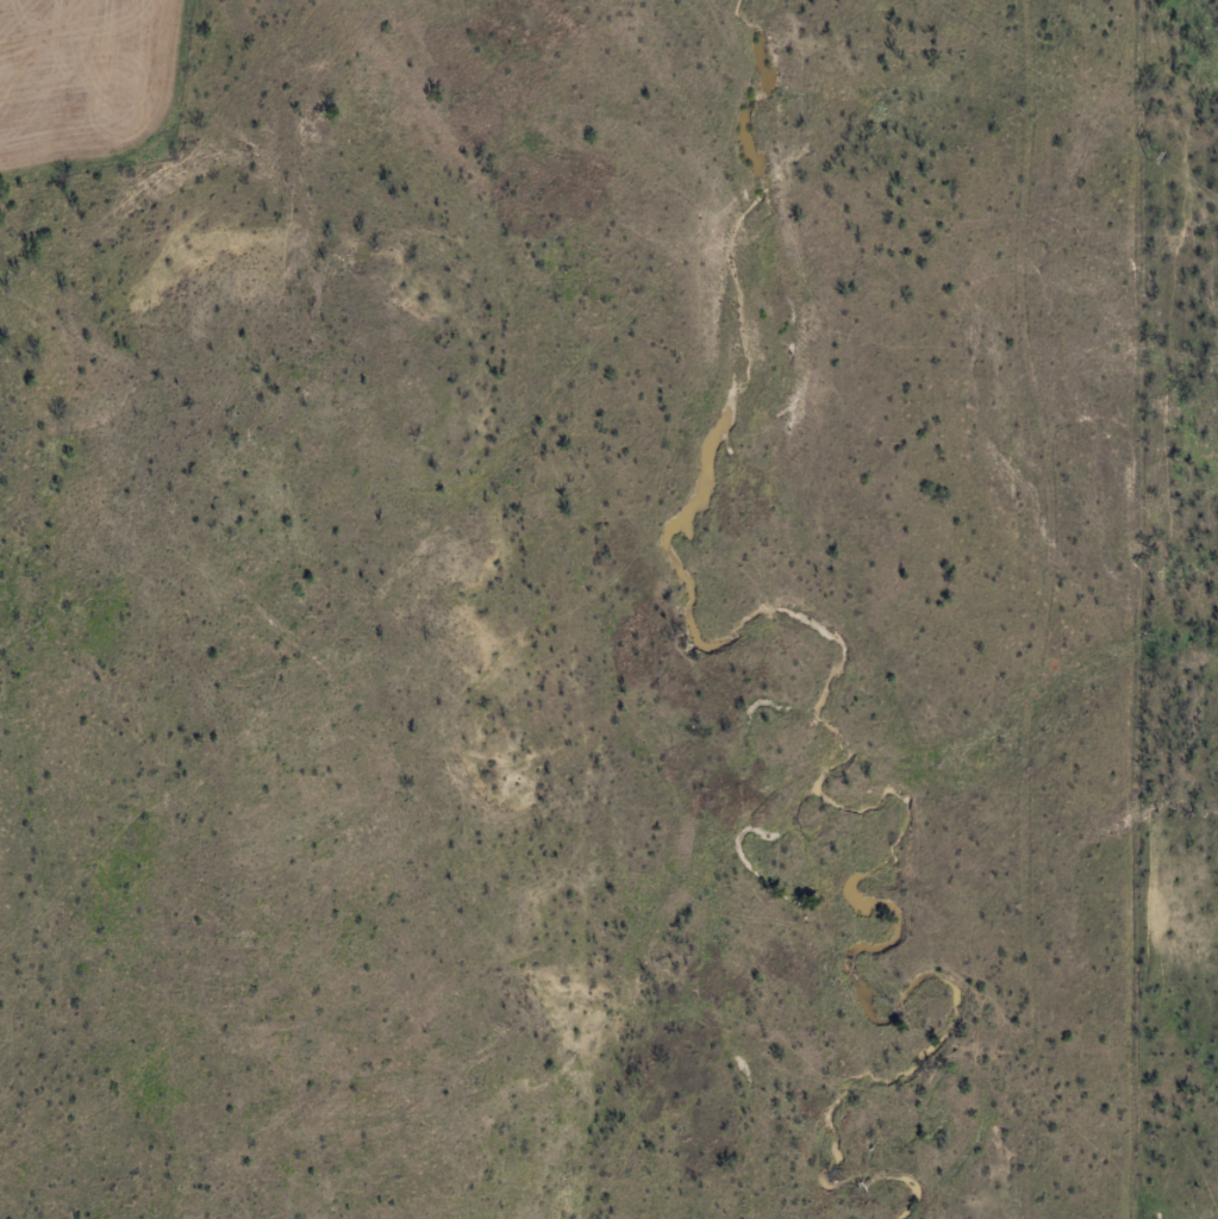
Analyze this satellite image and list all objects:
power tower: (1150, 152)

